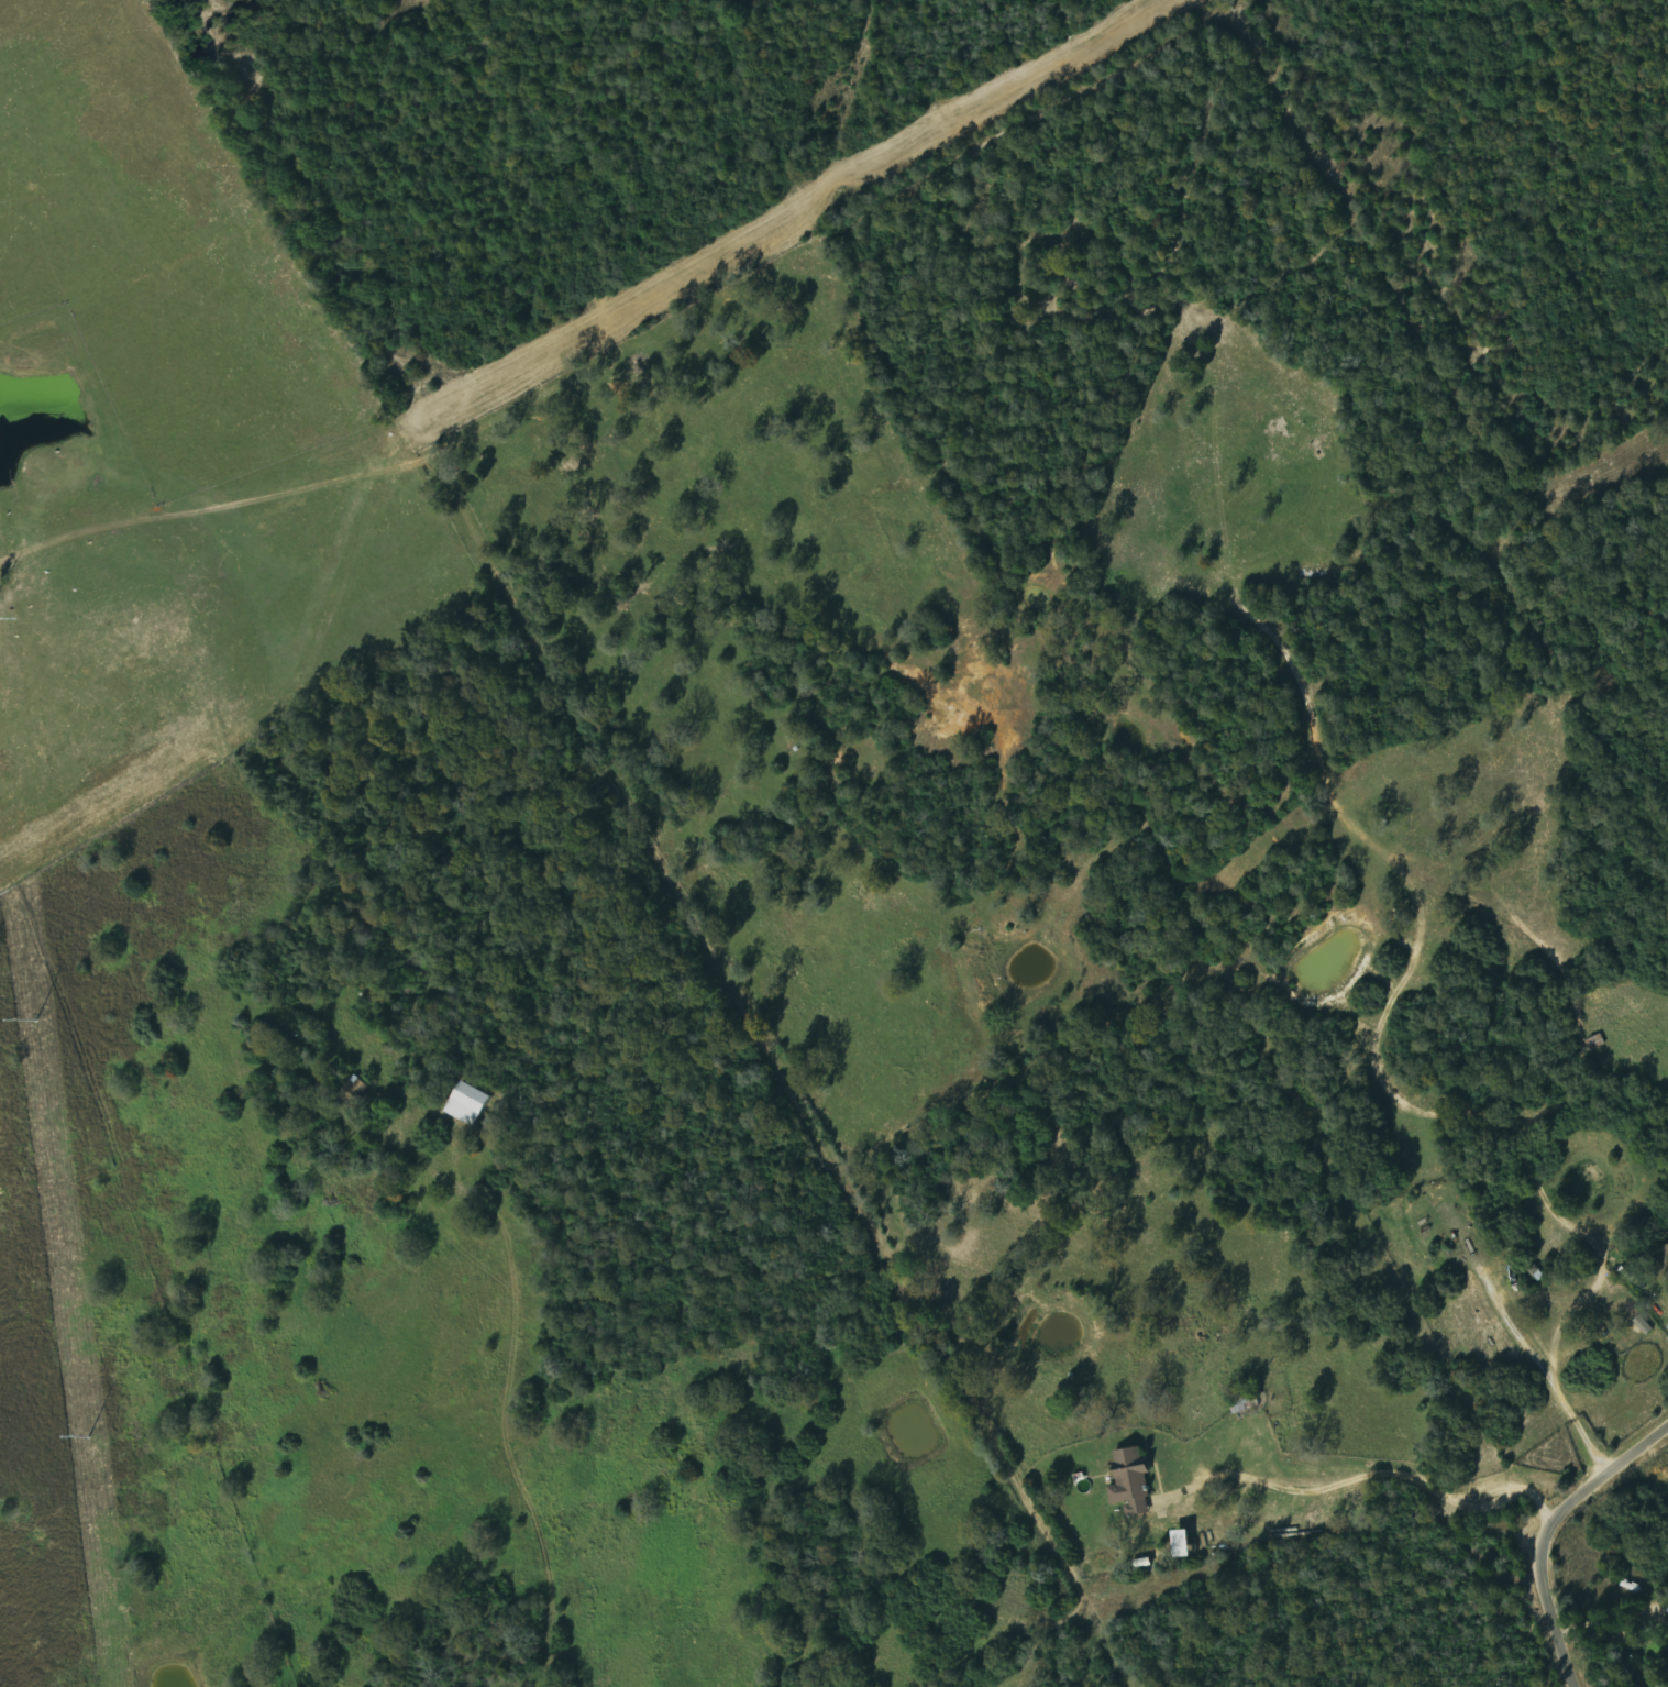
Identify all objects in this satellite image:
power tower: (34, 1019)
building: (1597, 1043)
building: (357, 1091)
building: (468, 1104)
building: (1664, 1257)
building: (1645, 1325)
power tower: (87, 1436)
building: (1133, 1482)
road: (1572, 1542)
building: (1184, 1544)

